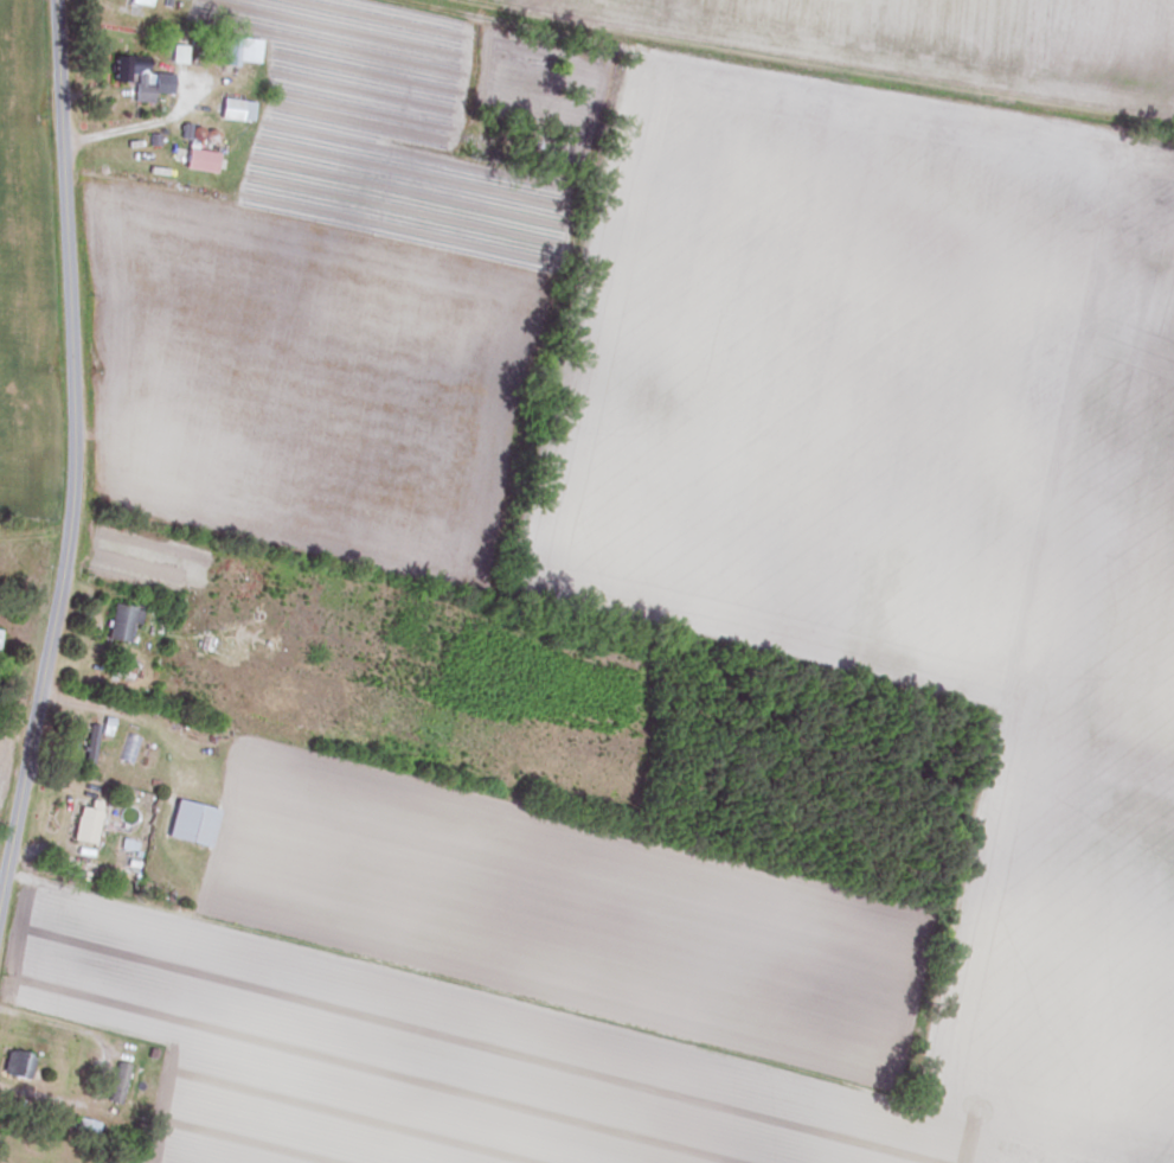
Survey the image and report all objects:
building: (140, 2)
building: (233, 49)
building: (137, 77)
building: (233, 109)
road: (135, 126)
building: (198, 159)
road: (75, 462)
building: (120, 621)
building: (88, 745)
building: (129, 748)
building: (188, 823)
building: (83, 825)
building: (15, 1065)
building: (115, 1082)
building: (85, 1126)

